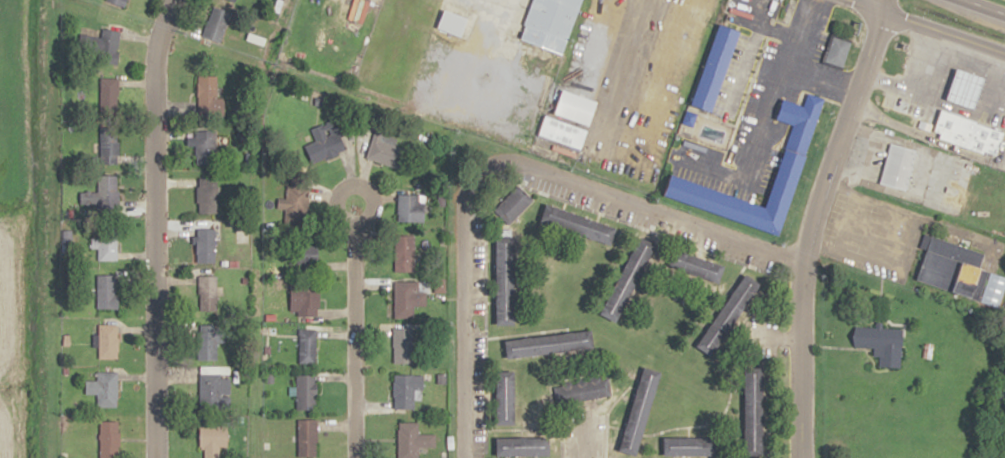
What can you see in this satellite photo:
building: (232, 0)
building: (119, 2)
road: (979, 8)
building: (452, 20)
building: (551, 22)
building: (216, 24)
road: (923, 28)
building: (109, 42)
building: (837, 49)
building: (718, 65)
building: (207, 94)
building: (108, 95)
building: (967, 114)
building: (925, 126)
building: (327, 140)
building: (108, 146)
building: (205, 147)
building: (798, 147)
building: (387, 150)
building: (898, 166)
road: (504, 168)
building: (208, 187)
building: (108, 188)
building: (293, 203)
building: (514, 205)
building: (411, 208)
building: (580, 224)
road: (810, 224)
road: (153, 227)
building: (207, 242)
building: (107, 245)
building: (405, 253)
building: (303, 256)
building: (701, 266)
building: (958, 271)
building: (630, 279)
building: (506, 281)
building: (107, 292)
building: (208, 293)
building: (304, 298)
building: (409, 299)
building: (731, 315)
road: (353, 331)
crop: (14, 333)
building: (210, 340)
building: (108, 341)
building: (882, 343)
building: (551, 344)
building: (403, 345)
building: (307, 346)
building: (214, 388)
building: (103, 389)
building: (583, 389)
building: (406, 390)
building: (306, 392)
building: (507, 398)
building: (640, 410)
building: (756, 411)
building: (307, 438)
building: (108, 439)
building: (412, 440)
building: (213, 442)
building: (524, 446)
building: (691, 446)

